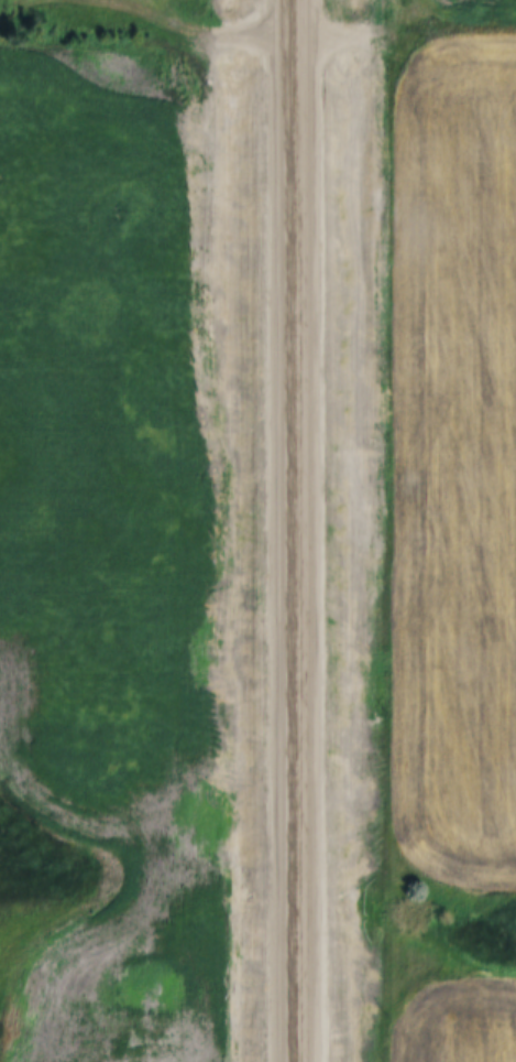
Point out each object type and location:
road: (146, 13)
road: (295, 530)

